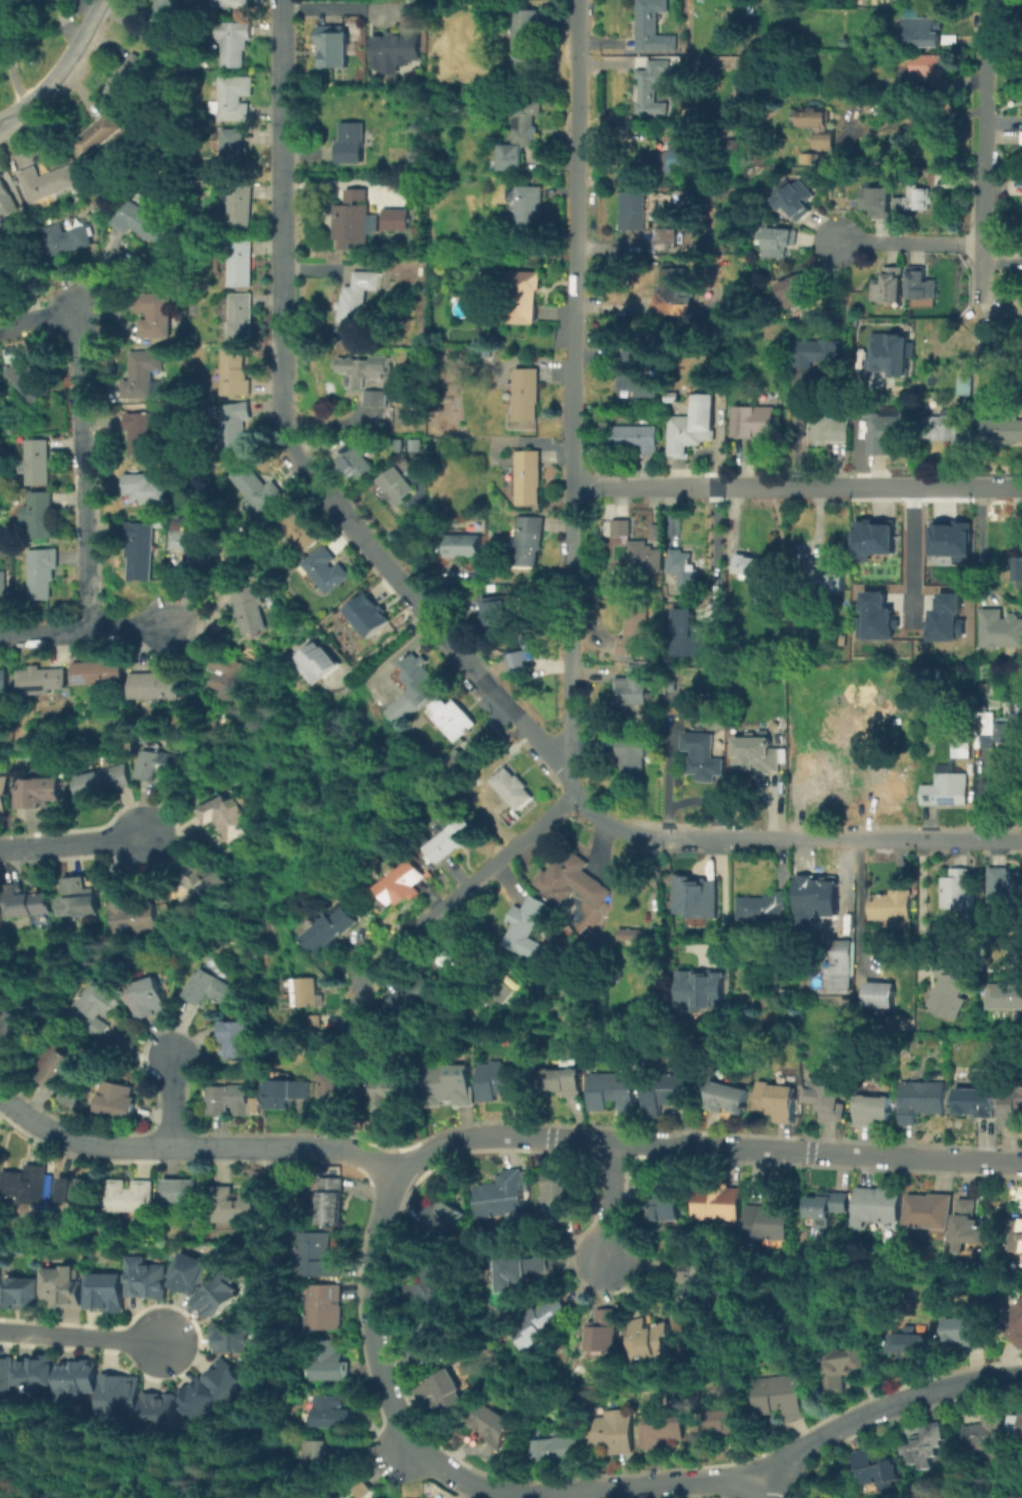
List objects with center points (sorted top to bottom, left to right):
building: (233, 4)
road: (336, 5)
building: (772, 13)
building: (163, 20)
road: (56, 26)
building: (651, 26)
building: (923, 33)
building: (527, 37)
building: (813, 38)
building: (828, 38)
building: (400, 42)
building: (235, 44)
building: (333, 47)
building: (932, 67)
road: (58, 68)
road: (10, 76)
building: (131, 78)
building: (652, 90)
building: (233, 101)
building: (814, 117)
road: (925, 118)
building: (98, 135)
building: (523, 136)
building: (1021, 140)
building: (826, 141)
building: (353, 143)
road: (983, 151)
building: (231, 156)
building: (676, 158)
building: (46, 181)
building: (1021, 198)
building: (793, 200)
building: (919, 200)
building: (877, 202)
building: (6, 204)
building: (242, 209)
building: (530, 210)
building: (638, 211)
building: (144, 220)
building: (397, 220)
building: (353, 222)
building: (666, 240)
building: (68, 241)
building: (779, 243)
road: (909, 244)
building: (242, 264)
building: (17, 266)
building: (921, 286)
building: (889, 287)
building: (797, 291)
building: (676, 294)
building: (359, 295)
building: (524, 297)
building: (155, 317)
building: (241, 317)
building: (997, 345)
building: (885, 352)
building: (821, 354)
building: (364, 370)
building: (146, 374)
building: (233, 374)
building: (636, 375)
building: (1, 377)
building: (32, 382)
building: (965, 385)
building: (528, 396)
building: (376, 400)
building: (754, 422)
building: (693, 425)
building: (235, 426)
road: (793, 426)
building: (826, 428)
building: (952, 430)
road: (82, 432)
building: (1003, 432)
building: (886, 433)
building: (144, 434)
building: (635, 440)
road: (290, 446)
building: (38, 461)
building: (357, 463)
building: (529, 479)
building: (400, 482)
road: (795, 484)
building: (147, 489)
building: (256, 492)
building: (40, 514)
building: (296, 529)
building: (621, 529)
building: (655, 533)
building: (872, 535)
building: (950, 539)
road: (567, 540)
building: (527, 542)
road: (979, 543)
road: (713, 545)
building: (463, 546)
building: (197, 548)
building: (142, 551)
road: (911, 554)
building: (644, 558)
building: (754, 565)
building: (1017, 569)
building: (325, 570)
building: (42, 571)
building: (679, 572)
building: (830, 579)
building: (3, 587)
building: (250, 611)
building: (496, 612)
building: (367, 616)
building: (875, 617)
building: (945, 617)
road: (85, 629)
building: (1001, 631)
building: (634, 632)
building: (688, 633)
road: (382, 644)
building: (527, 652)
building: (317, 662)
building: (231, 673)
building: (100, 674)
building: (4, 682)
building: (44, 682)
building: (631, 682)
building: (415, 685)
building: (158, 686)
building: (452, 720)
building: (1010, 727)
building: (985, 736)
building: (843, 742)
building: (24, 744)
building: (963, 749)
building: (756, 755)
building: (702, 758)
building: (632, 762)
building: (456, 767)
building: (160, 768)
building: (821, 772)
building: (105, 782)
building: (890, 787)
building: (513, 789)
building: (946, 790)
building: (39, 792)
building: (4, 795)
building: (228, 821)
road: (791, 837)
building: (450, 840)
road: (72, 843)
building: (570, 882)
building: (205, 884)
building: (402, 884)
building: (1005, 886)
road: (721, 891)
building: (956, 891)
building: (696, 898)
building: (812, 898)
building: (79, 899)
road: (919, 900)
building: (24, 901)
road: (858, 903)
building: (892, 908)
building: (763, 909)
building: (132, 917)
building: (327, 929)
building: (526, 930)
building: (630, 938)
building: (454, 964)
building: (843, 965)
building: (952, 985)
building: (214, 989)
building: (702, 991)
building: (308, 992)
building: (417, 996)
building: (1015, 996)
building: (882, 998)
building: (149, 999)
building: (95, 1008)
building: (11, 1031)
building: (236, 1038)
building: (59, 1072)
building: (504, 1080)
building: (565, 1082)
building: (453, 1084)
building: (340, 1089)
building: (395, 1091)
building: (614, 1093)
building: (668, 1093)
building: (284, 1094)
building: (726, 1099)
road: (169, 1100)
building: (229, 1100)
building: (119, 1101)
building: (780, 1102)
building: (922, 1102)
building: (978, 1102)
building: (830, 1104)
building: (1014, 1106)
building: (874, 1110)
road: (197, 1146)
road: (397, 1179)
building: (23, 1186)
building: (76, 1191)
building: (184, 1193)
building: (502, 1196)
building: (558, 1197)
building: (129, 1198)
road: (608, 1200)
building: (332, 1201)
building: (668, 1202)
building: (719, 1202)
building: (879, 1205)
building: (829, 1207)
building: (234, 1208)
building: (931, 1213)
building: (440, 1220)
building: (769, 1224)
building: (971, 1226)
building: (1016, 1238)
building: (317, 1258)
building: (523, 1270)
building: (188, 1273)
building: (145, 1281)
building: (699, 1281)
building: (60, 1287)
building: (429, 1288)
building: (18, 1292)
building: (105, 1294)
building: (217, 1297)
building: (326, 1309)
building: (1014, 1320)
building: (546, 1325)
building: (605, 1333)
building: (966, 1334)
road: (82, 1336)
building: (233, 1337)
building: (429, 1343)
building: (653, 1343)
building: (911, 1346)
building: (329, 1363)
building: (842, 1367)
building: (37, 1378)
building: (227, 1380)
building: (5, 1381)
building: (77, 1383)
building: (443, 1392)
building: (779, 1395)
building: (121, 1398)
building: (198, 1399)
road: (883, 1409)
building: (159, 1412)
building: (331, 1413)
building: (728, 1422)
building: (1019, 1422)
building: (493, 1425)
building: (661, 1428)
building: (985, 1430)
building: (610, 1432)
building: (928, 1447)
building: (560, 1449)
building: (330, 1459)
building: (878, 1468)
park: (110, 1472)
road: (761, 1490)
building: (364, 1491)
building: (325, 1496)

